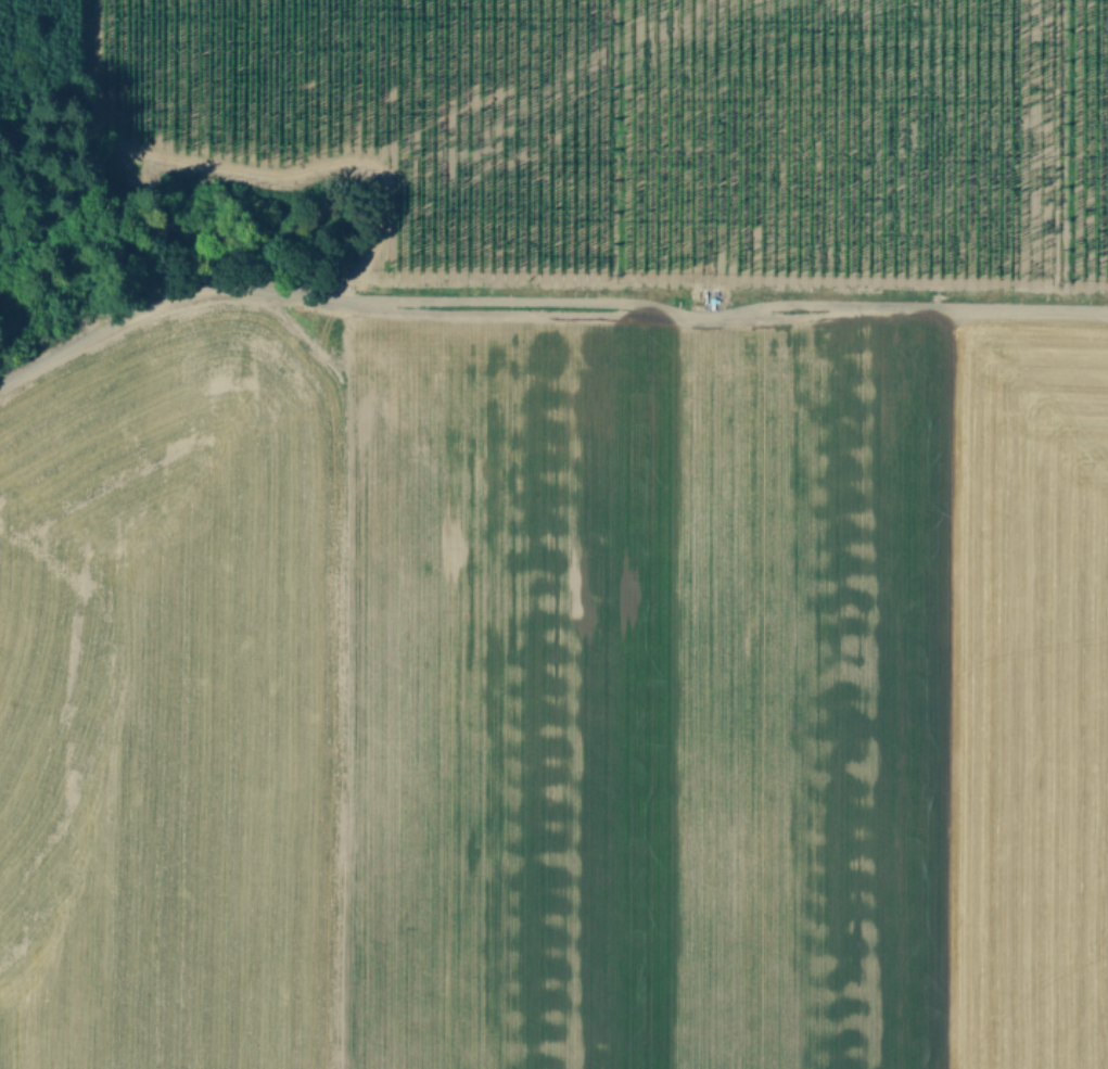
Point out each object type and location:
crop: (573, 547)

